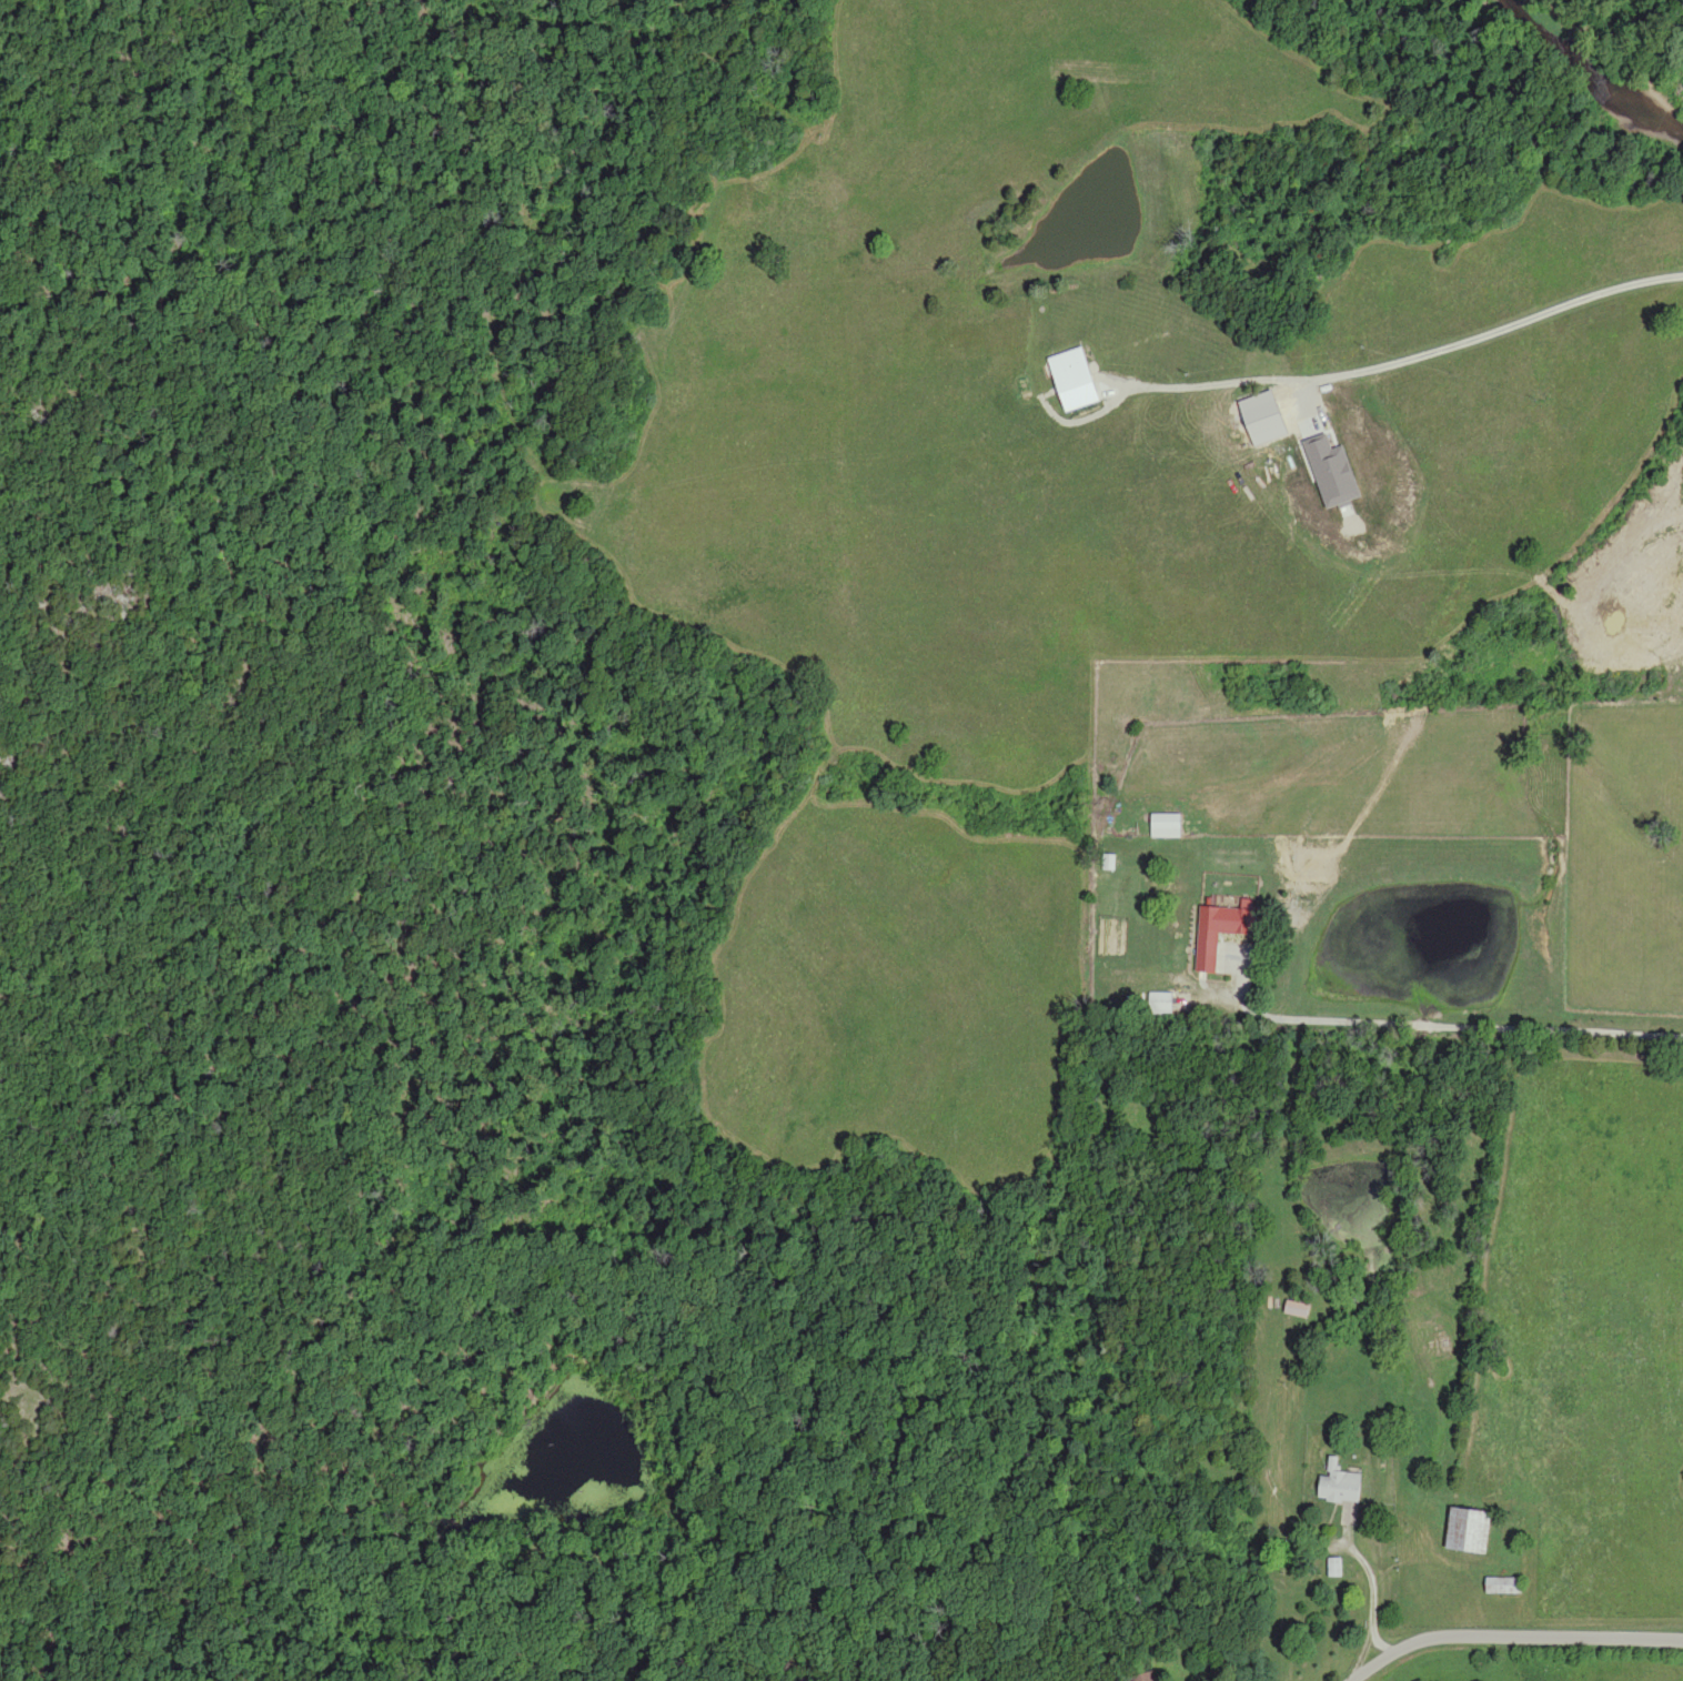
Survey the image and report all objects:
river: (1590, 82)
road: (1596, 724)
building: (1171, 822)
building: (1242, 925)
building: (1162, 1005)
road: (1438, 1027)
building: (1301, 1309)
building: (1344, 1488)
building: (1472, 1531)
building: (1506, 1586)
road: (1491, 1634)

